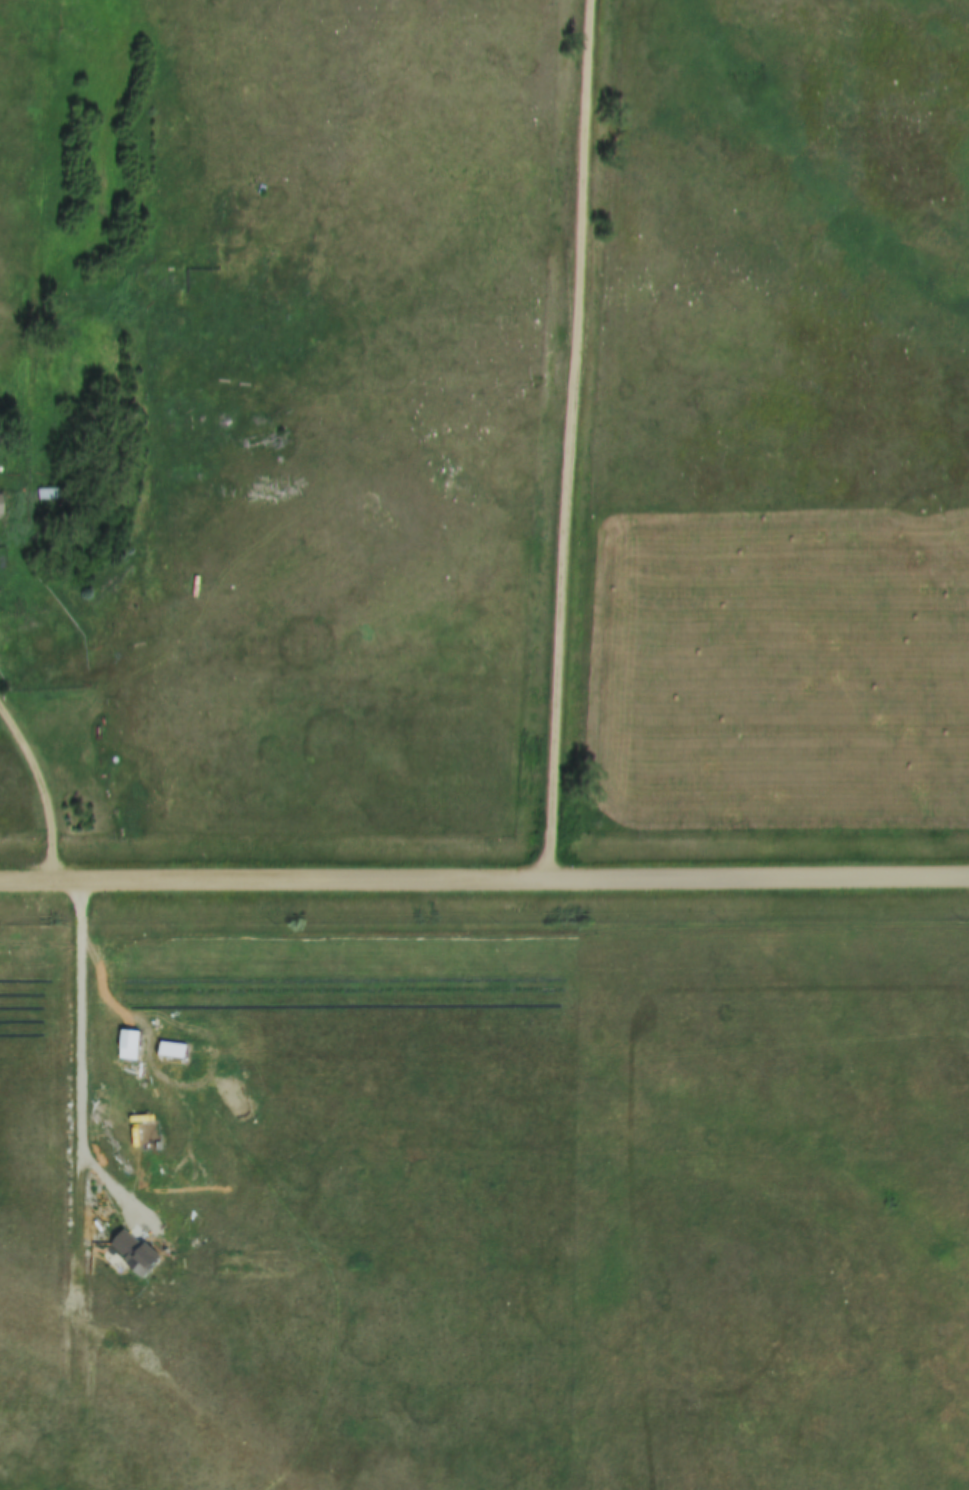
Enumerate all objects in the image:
road: (569, 441)
road: (44, 792)
road: (484, 882)
park: (777, 1208)

